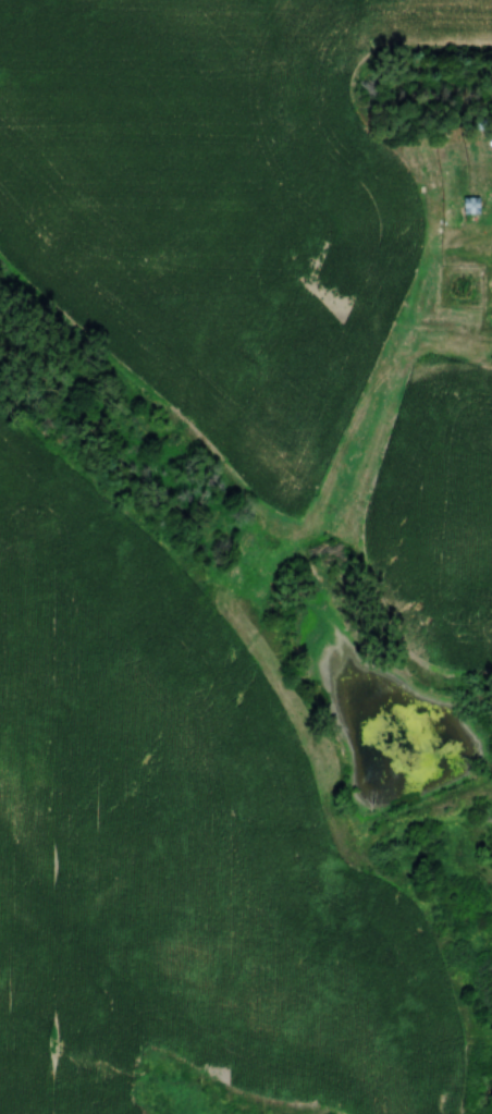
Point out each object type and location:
building: (469, 207)

